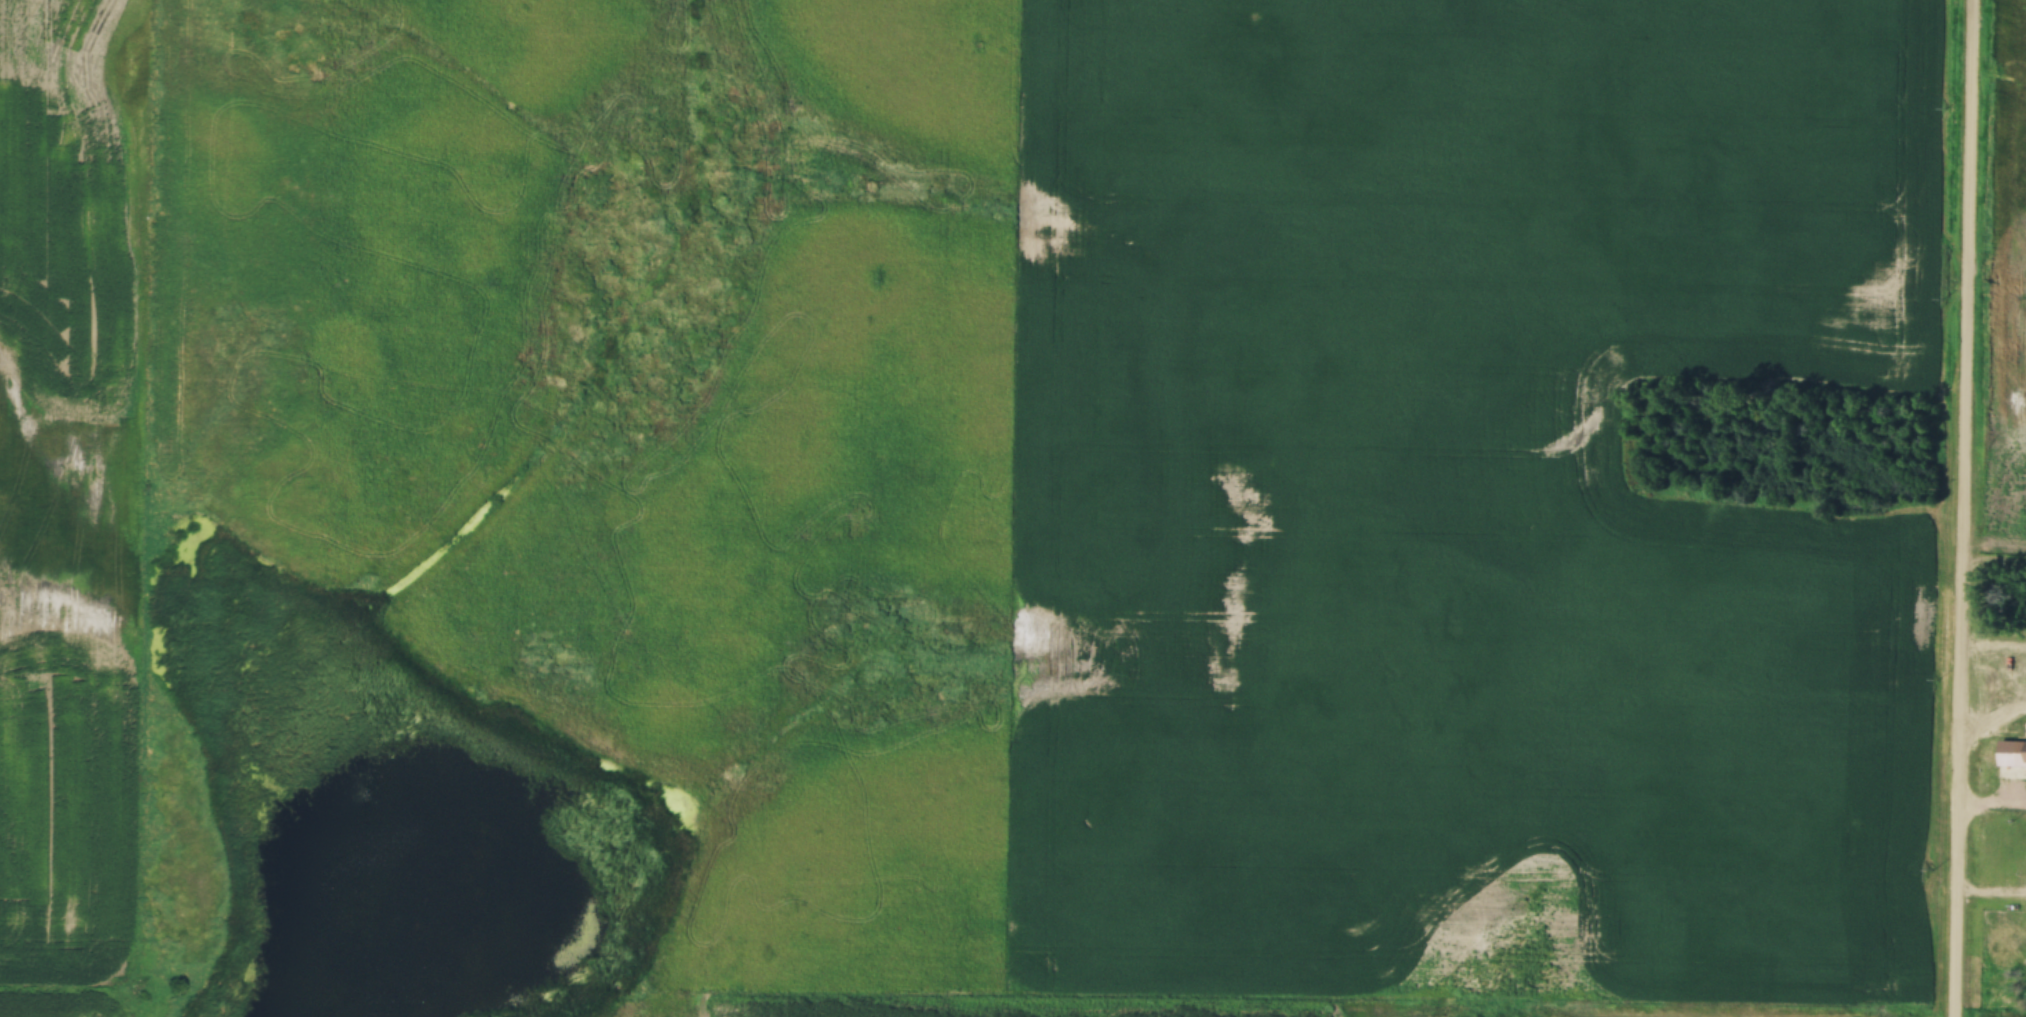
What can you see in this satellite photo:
road: (1959, 508)
road: (1990, 713)
building: (2021, 752)
road: (1990, 794)

